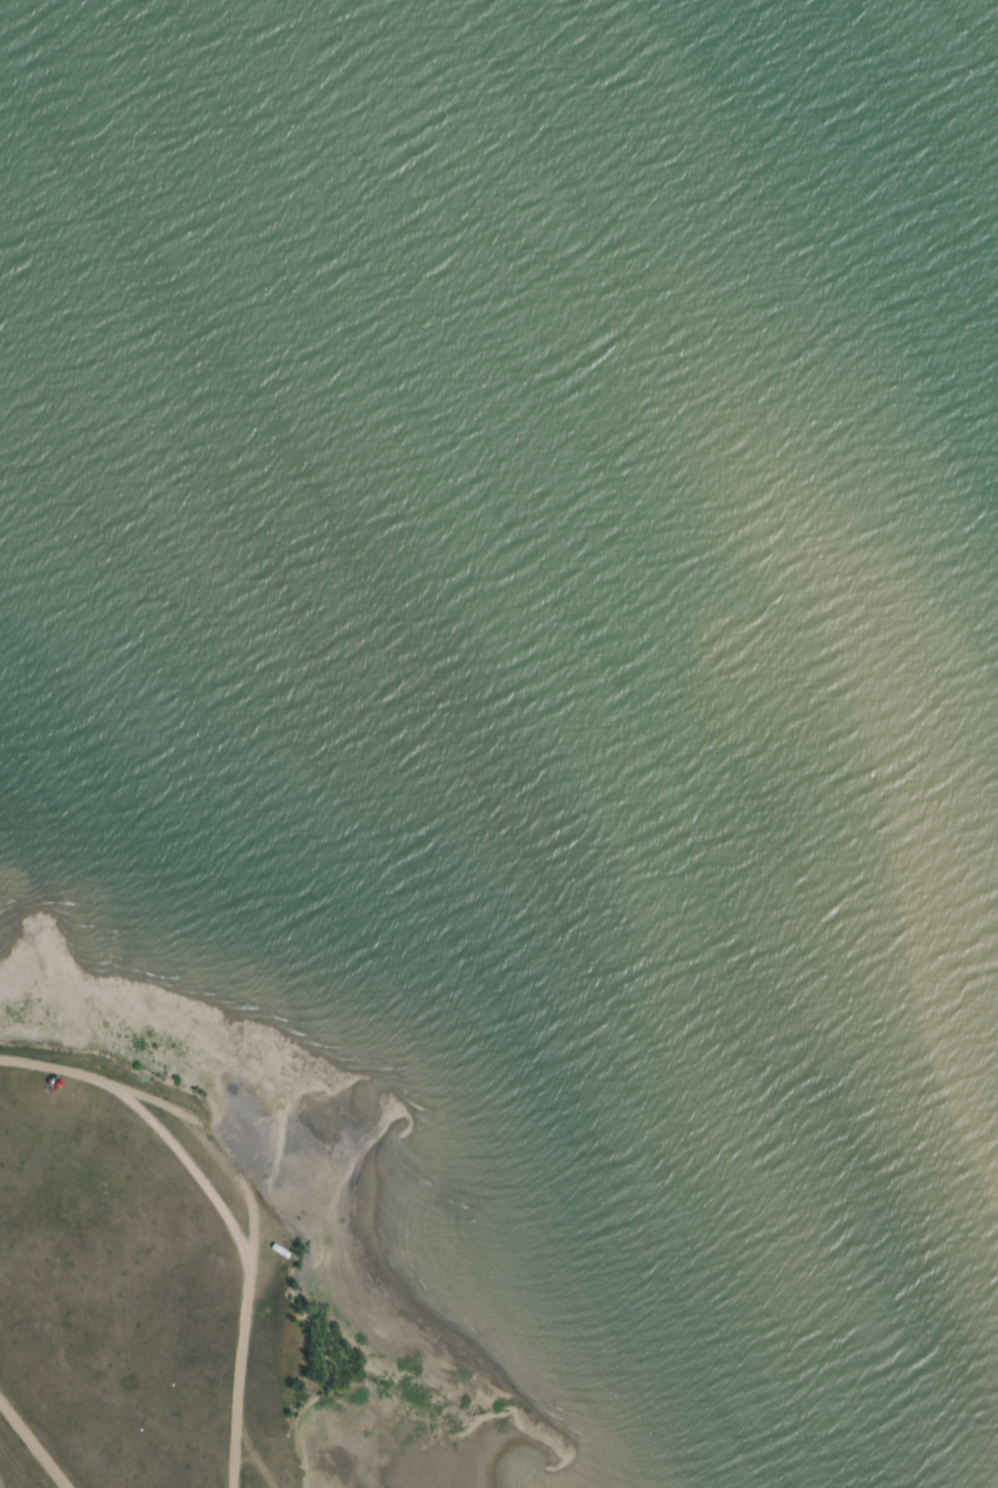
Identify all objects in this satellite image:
road: (251, 1186)
road: (29, 1446)

